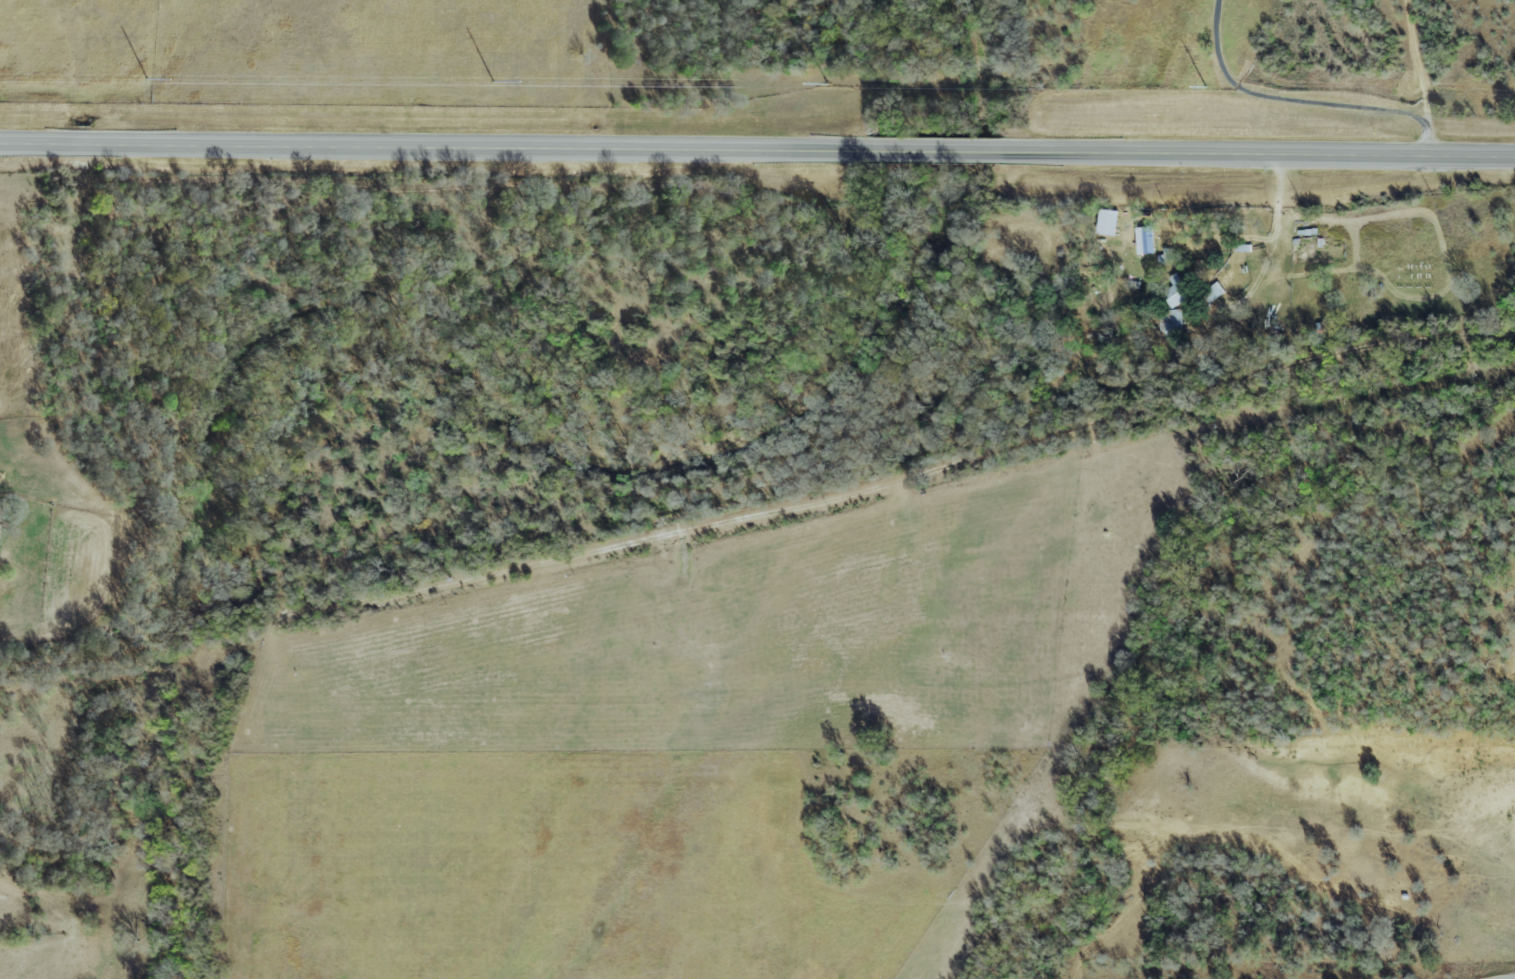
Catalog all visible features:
road: (1422, 65)
power tower: (152, 81)
power tower: (496, 85)
power tower: (828, 85)
power tower: (1207, 89)
road: (1303, 101)
road: (429, 148)
road: (930, 152)
road: (1258, 155)
road: (1274, 227)
building: (1142, 239)
building: (1165, 257)
building: (1173, 291)
road: (61, 663)
road: (1508, 977)

